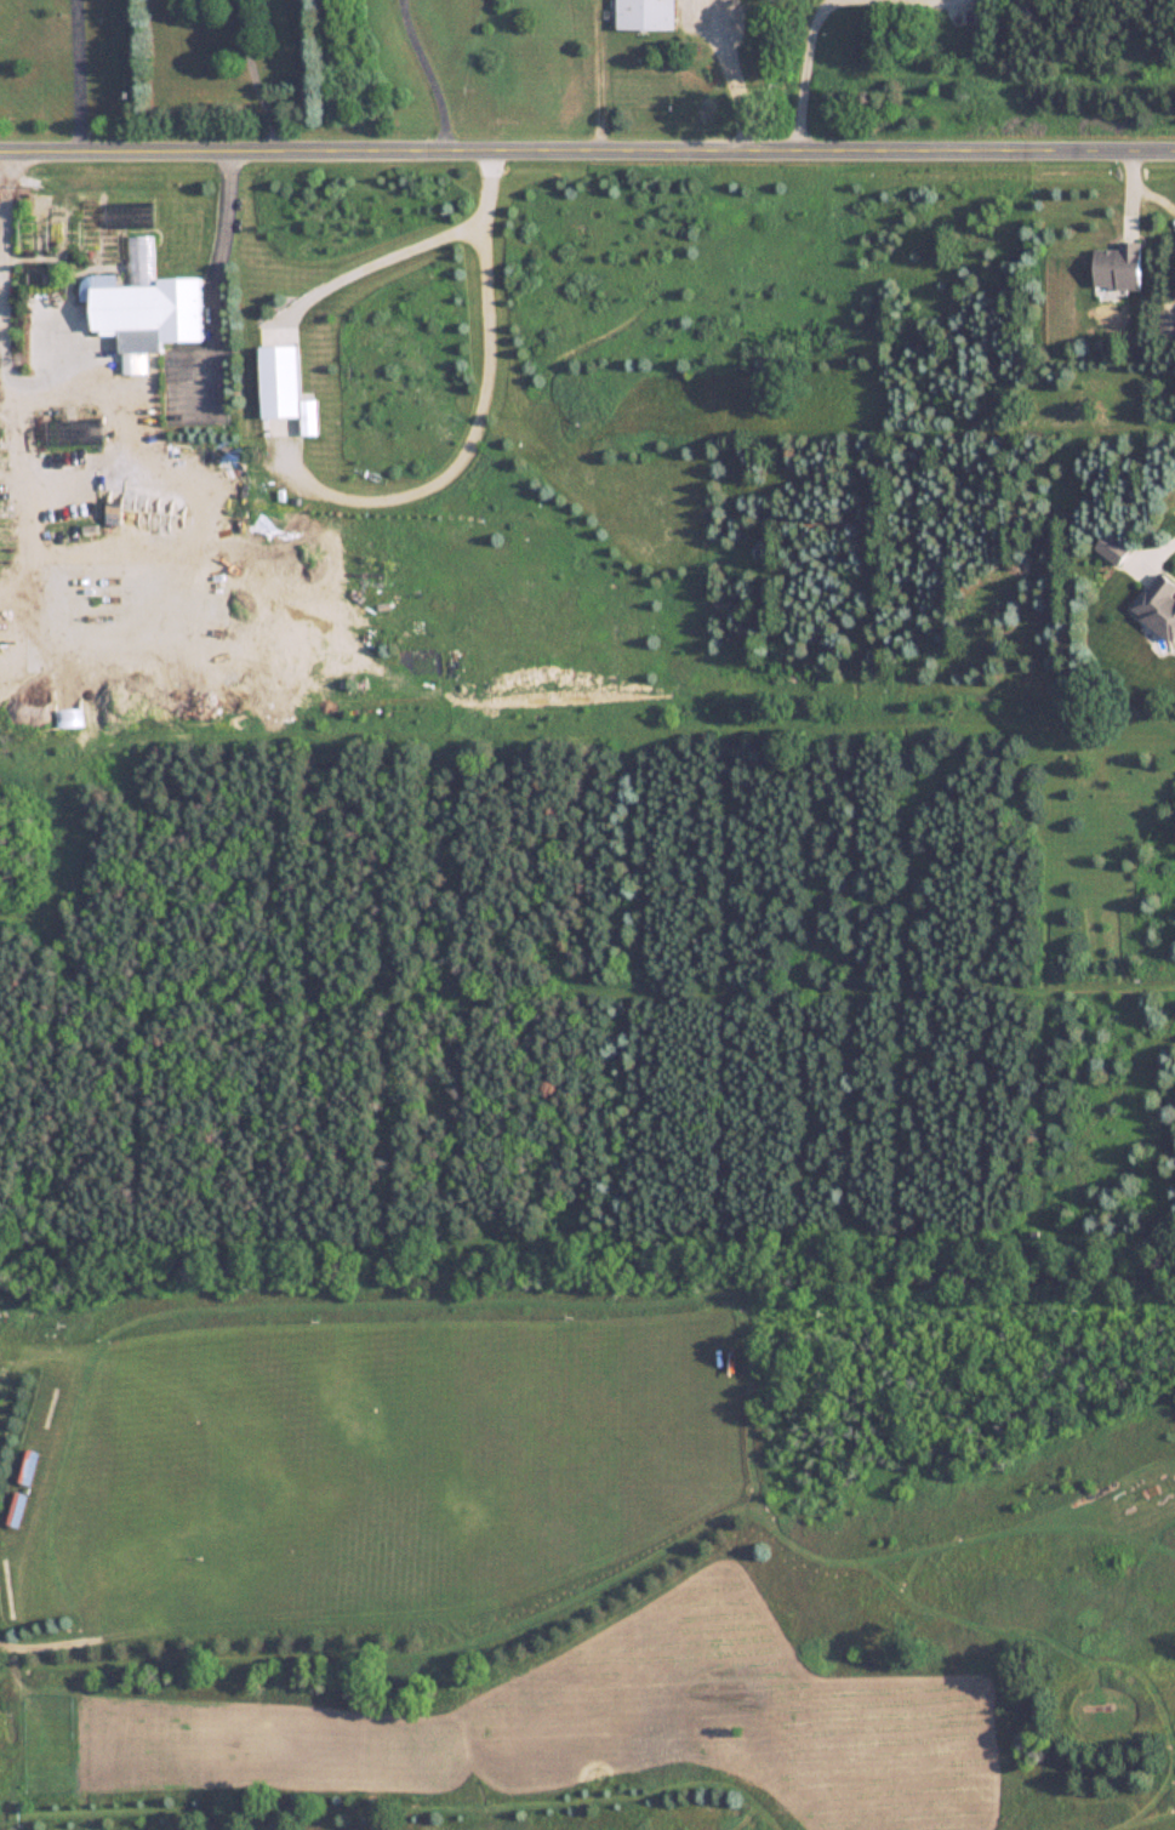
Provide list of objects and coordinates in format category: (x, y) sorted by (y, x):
building: (646, 13)
park: (64, 67)
road: (805, 74)
road: (428, 75)
road: (597, 76)
road: (253, 78)
road: (730, 81)
road: (587, 154)
road: (410, 252)
building: (1119, 266)
road: (230, 292)
building: (152, 312)
road: (4, 319)
building: (1167, 325)
road: (467, 454)
road: (25, 496)
building: (1114, 547)
building: (1159, 604)
park: (707, 1683)

